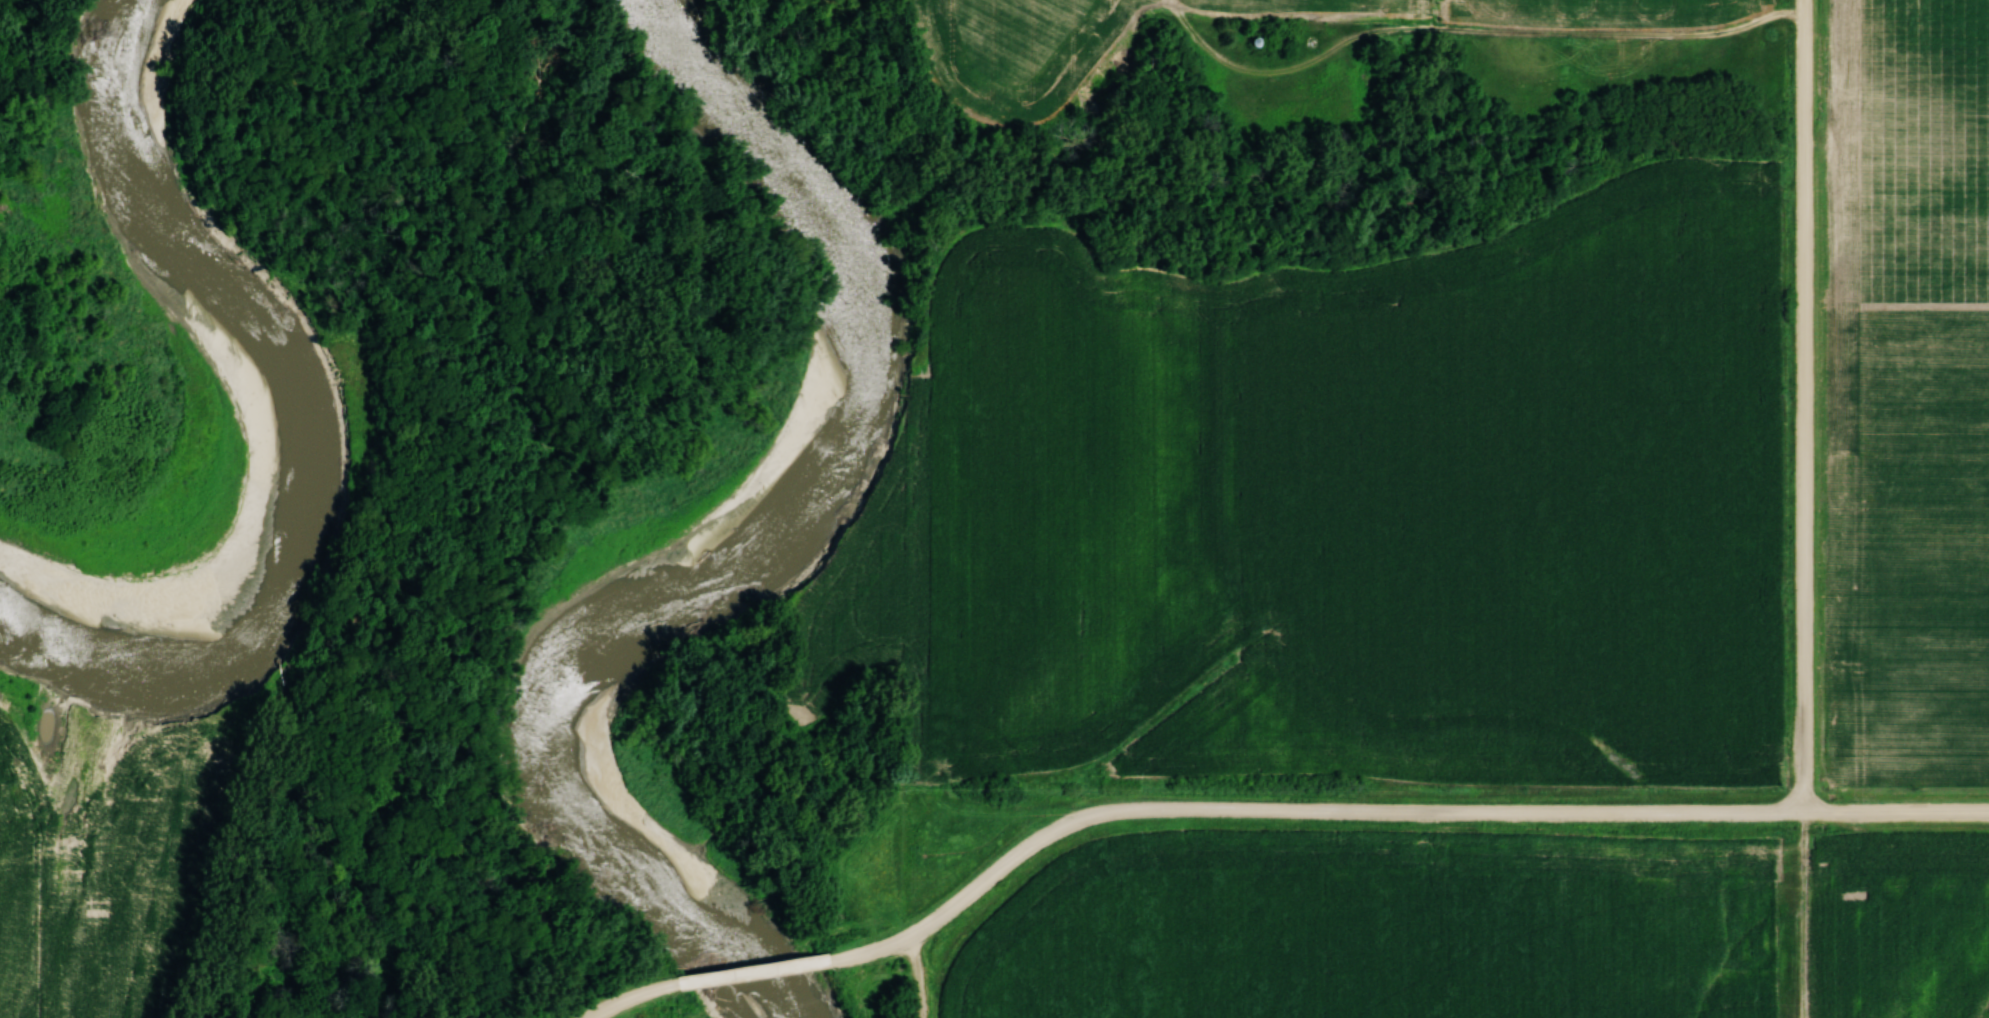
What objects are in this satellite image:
road: (1805, 405)
river: (244, 412)
river: (729, 517)
road: (1390, 808)
road: (752, 968)
road: (918, 974)
road: (628, 997)

